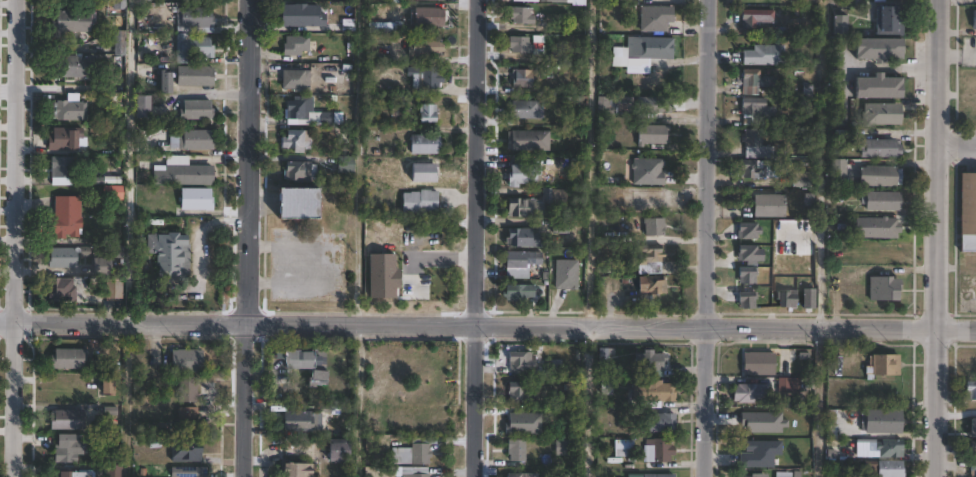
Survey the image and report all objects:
building: (531, 0)
building: (810, 0)
building: (116, 3)
building: (301, 15)
building: (521, 15)
building: (195, 16)
building: (426, 17)
building: (656, 18)
building: (889, 18)
building: (72, 20)
building: (974, 20)
building: (762, 22)
building: (840, 23)
building: (385, 28)
building: (295, 44)
building: (526, 44)
building: (192, 47)
building: (425, 47)
building: (879, 48)
building: (119, 49)
building: (657, 51)
building: (765, 55)
building: (618, 56)
building: (70, 66)
road: (892, 67)
building: (194, 75)
building: (425, 77)
building: (521, 78)
building: (295, 79)
building: (756, 80)
building: (164, 81)
building: (879, 86)
building: (142, 104)
building: (654, 104)
building: (606, 106)
building: (298, 107)
building: (527, 108)
building: (69, 109)
building: (200, 109)
building: (427, 112)
building: (757, 112)
building: (882, 113)
building: (331, 118)
building: (653, 133)
building: (752, 137)
building: (843, 137)
building: (63, 139)
building: (528, 139)
building: (191, 140)
building: (297, 140)
road: (957, 143)
building: (425, 144)
building: (880, 147)
building: (780, 151)
building: (345, 164)
road: (820, 164)
building: (839, 167)
building: (756, 168)
building: (298, 169)
building: (60, 170)
building: (647, 171)
building: (182, 172)
building: (522, 174)
building: (881, 175)
building: (802, 178)
building: (112, 192)
building: (195, 199)
building: (420, 201)
building: (882, 201)
building: (298, 202)
building: (536, 202)
building: (69, 205)
building: (769, 205)
building: (967, 212)
building: (63, 226)
building: (654, 226)
building: (560, 227)
building: (882, 228)
building: (749, 231)
building: (789, 233)
building: (522, 237)
road: (13, 238)
road: (248, 238)
road: (480, 238)
road: (704, 238)
road: (937, 238)
building: (168, 251)
building: (750, 253)
building: (61, 257)
building: (649, 259)
building: (519, 263)
building: (100, 266)
building: (605, 269)
building: (565, 274)
building: (747, 274)
building: (113, 288)
building: (651, 288)
building: (885, 288)
building: (61, 289)
building: (518, 292)
parking lot: (969, 292)
building: (809, 298)
building: (746, 300)
building: (786, 300)
road: (488, 326)
building: (67, 359)
building: (186, 361)
building: (306, 363)
building: (520, 363)
building: (654, 363)
building: (759, 363)
building: (884, 364)
building: (790, 384)
building: (105, 385)
building: (187, 388)
building: (572, 388)
building: (655, 391)
building: (971, 391)
building: (520, 392)
building: (751, 393)
road: (122, 400)
road: (818, 403)
building: (66, 420)
building: (187, 420)
building: (297, 420)
building: (882, 421)
building: (661, 423)
building: (565, 447)
building: (624, 448)
building: (889, 448)
building: (66, 449)
building: (971, 449)
building: (337, 450)
building: (516, 450)
building: (662, 450)
building: (185, 451)
building: (412, 454)
building: (879, 469)
building: (113, 470)
building: (296, 470)
building: (973, 471)
building: (188, 472)
building: (417, 472)
building: (71, 473)
building: (783, 474)
building: (522, 475)
building: (658, 475)
building: (756, 475)

